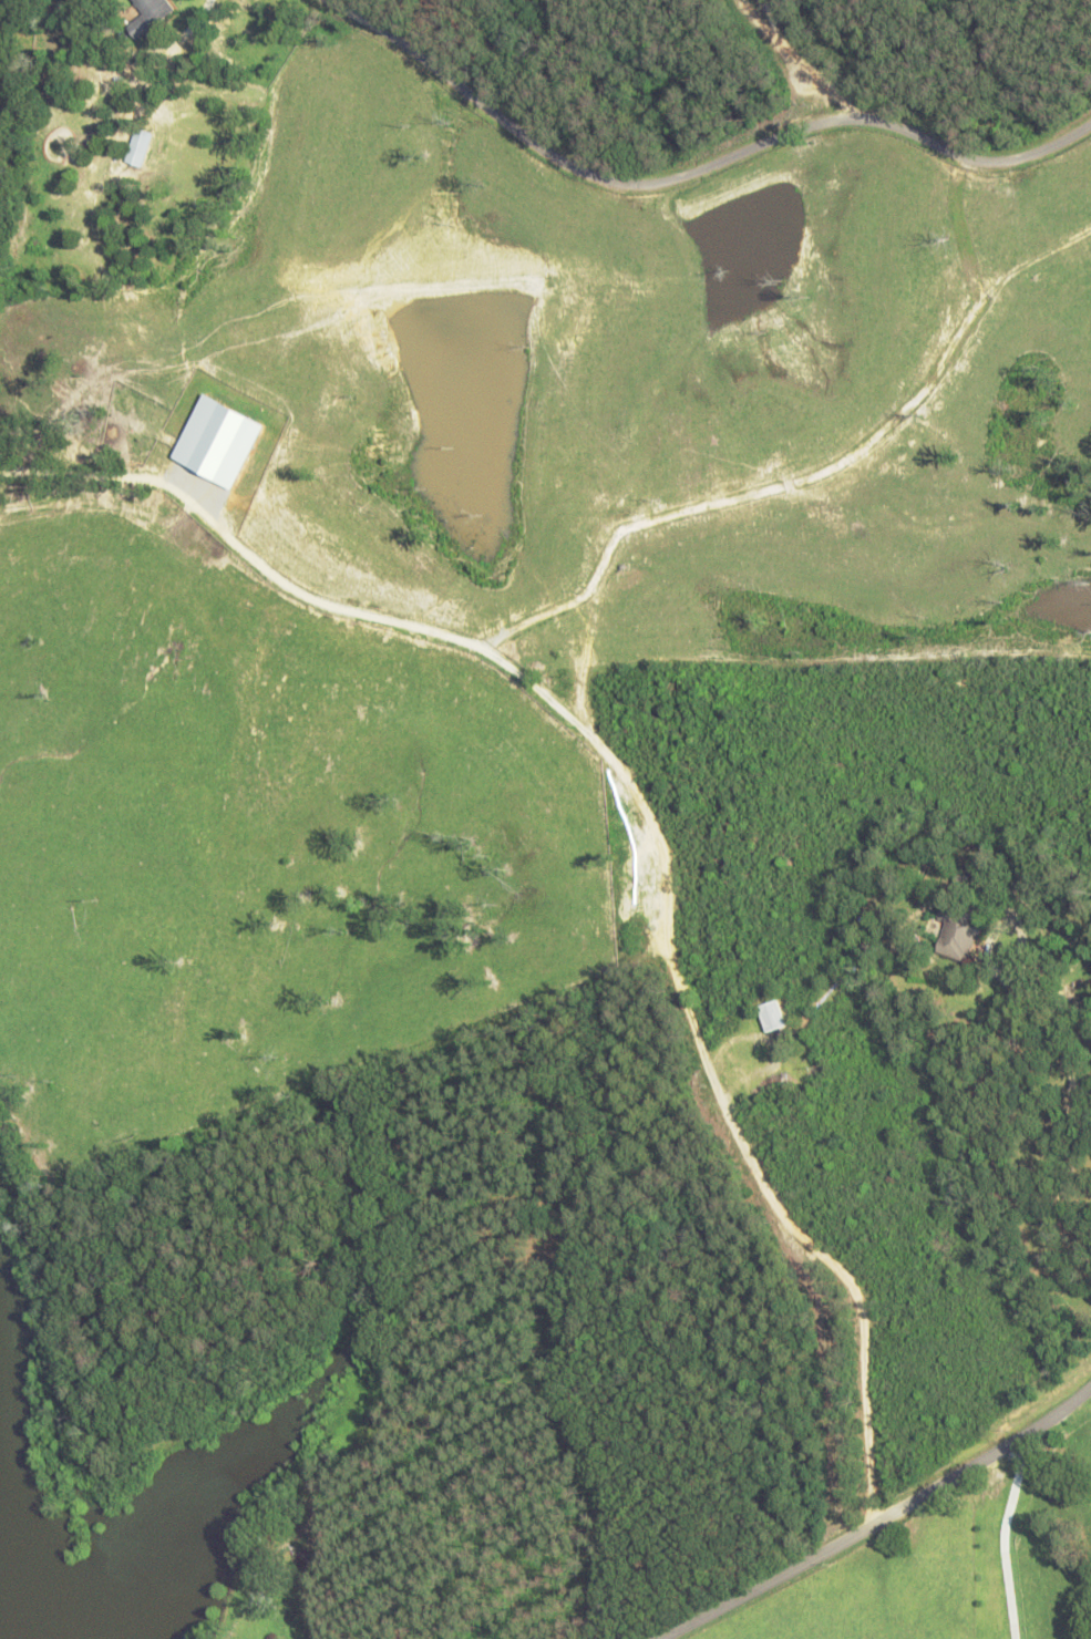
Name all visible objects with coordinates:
building: (151, 17)
road: (1059, 182)
building: (968, 879)
building: (958, 931)
building: (780, 1016)
road: (866, 1519)
road: (1003, 1532)

